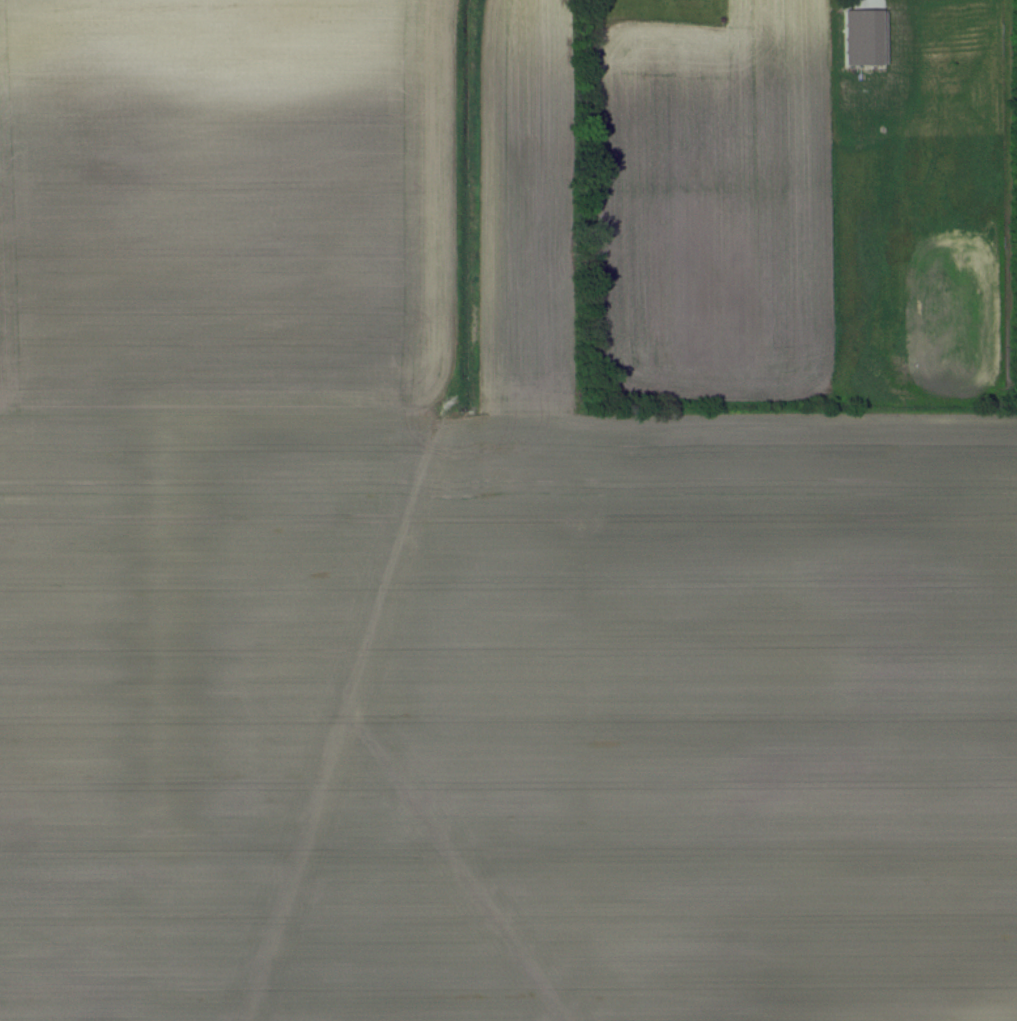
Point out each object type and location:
building: (863, 36)

